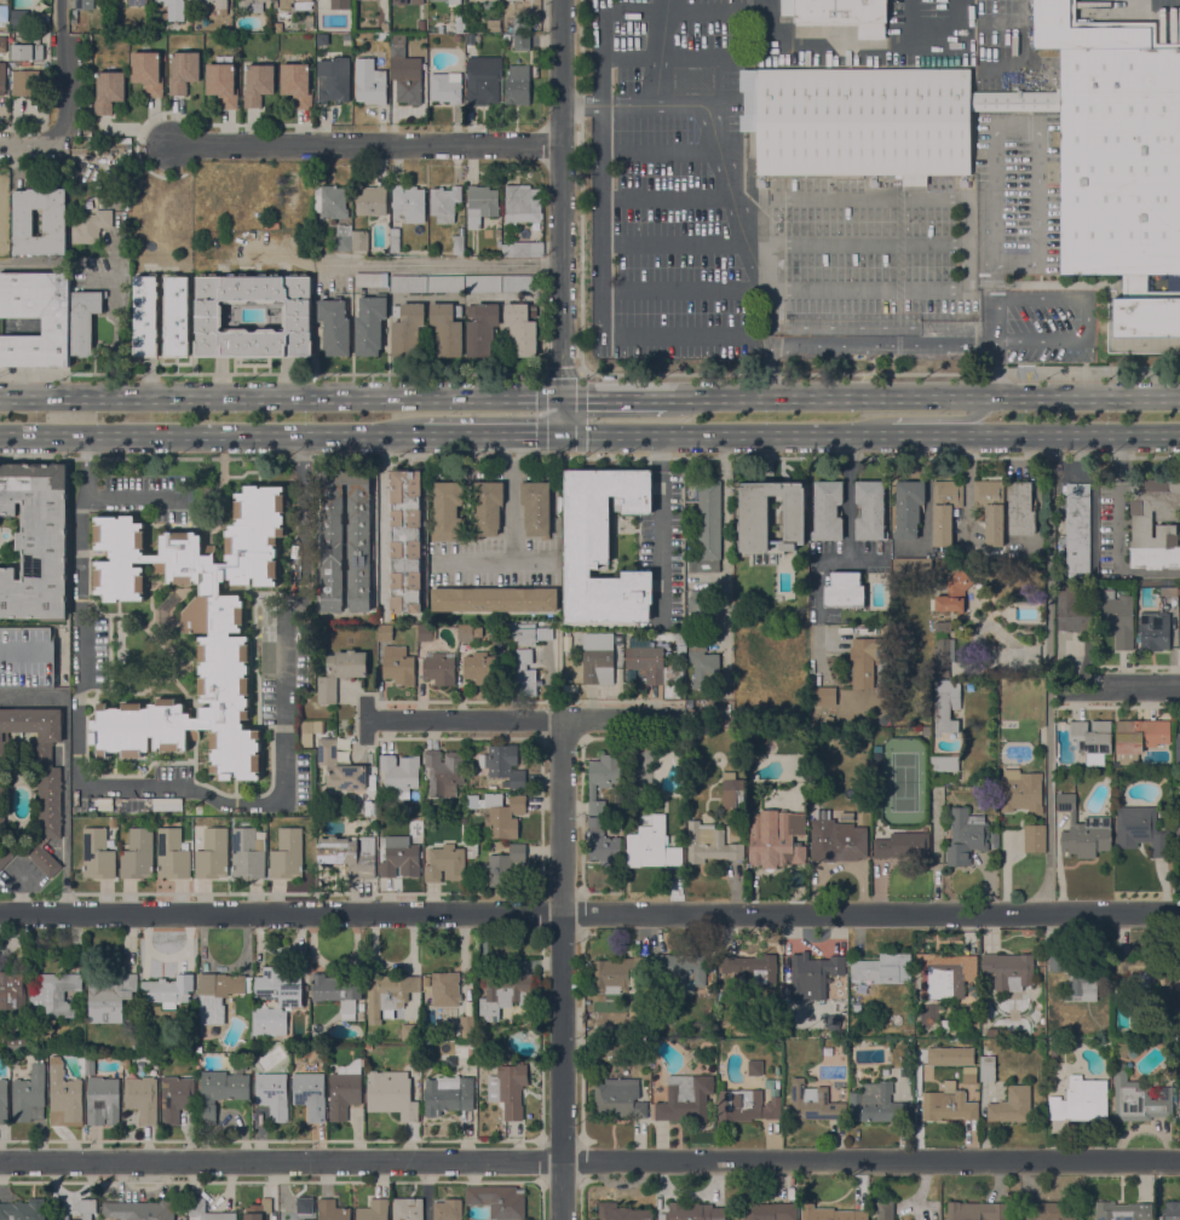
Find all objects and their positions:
building: (416, 1)
building: (449, 1)
building: (132, 2)
building: (217, 2)
building: (399, 2)
building: (295, 4)
building: (339, 4)
building: (488, 4)
building: (84, 5)
building: (252, 5)
building: (173, 10)
building: (844, 15)
building: (4, 17)
building: (19, 18)
building: (74, 19)
building: (310, 21)
building: (421, 24)
building: (493, 24)
building: (522, 24)
building: (385, 25)
building: (277, 27)
building: (457, 27)
building: (186, 28)
building: (499, 36)
building: (457, 38)
building: (522, 41)
building: (2, 44)
road: (660, 50)
building: (27, 51)
building: (398, 51)
building: (183, 71)
building: (148, 73)
road: (62, 74)
building: (2, 77)
building: (333, 80)
building: (484, 81)
building: (25, 82)
building: (370, 82)
building: (221, 84)
building: (258, 84)
building: (297, 85)
building: (518, 85)
building: (409, 87)
building: (445, 87)
building: (109, 91)
road: (574, 102)
road: (997, 130)
road: (365, 145)
road: (30, 146)
building: (127, 157)
building: (863, 160)
road: (724, 162)
building: (370, 200)
building: (332, 201)
building: (408, 203)
building: (443, 203)
building: (522, 203)
building: (480, 205)
building: (2, 209)
road: (559, 215)
building: (53, 221)
building: (91, 226)
building: (497, 232)
building: (343, 237)
building: (359, 240)
building: (395, 240)
building: (459, 244)
building: (4, 249)
building: (523, 249)
road: (445, 264)
road: (120, 274)
building: (370, 280)
building: (408, 283)
building: (445, 283)
building: (483, 283)
building: (517, 283)
road: (945, 289)
road: (600, 292)
building: (284, 315)
building: (161, 316)
building: (221, 316)
road: (1086, 317)
building: (85, 320)
building: (369, 324)
building: (56, 327)
building: (334, 327)
building: (407, 328)
building: (447, 328)
building: (480, 328)
building: (522, 328)
road: (760, 328)
road: (770, 338)
road: (881, 344)
road: (770, 370)
road: (992, 370)
road: (270, 373)
road: (559, 373)
road: (879, 373)
traffic signals: (560, 397)
road: (614, 397)
road: (922, 397)
road: (280, 398)
road: (954, 416)
road: (1047, 432)
traffic signals: (562, 433)
road: (725, 433)
road: (903, 433)
road: (212, 435)
road: (493, 435)
road: (589, 455)
road: (136, 496)
building: (488, 507)
building: (536, 507)
building: (909, 507)
building: (945, 508)
building: (991, 508)
building: (1020, 508)
building: (448, 511)
building: (827, 511)
building: (870, 511)
building: (771, 516)
road: (379, 517)
road: (661, 523)
building: (708, 526)
building: (1077, 528)
road: (1117, 529)
building: (1141, 530)
road: (508, 534)
road: (850, 539)
building: (35, 541)
building: (333, 541)
building: (405, 541)
building: (604, 546)
road: (724, 548)
road: (1048, 549)
road: (860, 557)
road: (531, 564)
building: (913, 564)
building: (1161, 587)
building: (845, 589)
building: (954, 592)
building: (494, 599)
building: (701, 605)
building: (1071, 610)
building: (1118, 618)
building: (559, 627)
building: (886, 629)
building: (195, 631)
building: (1155, 631)
building: (426, 632)
building: (385, 633)
building: (466, 633)
building: (679, 643)
building: (502, 648)
building: (943, 649)
building: (577, 651)
building: (526, 656)
building: (27, 657)
building: (598, 658)
building: (645, 660)
building: (867, 660)
building: (702, 661)
building: (398, 666)
building: (439, 667)
building: (480, 667)
building: (340, 672)
building: (882, 677)
building: (673, 678)
road: (1121, 685)
building: (824, 696)
building: (946, 704)
road: (465, 723)
road: (627, 723)
building: (311, 726)
building: (926, 731)
building: (1093, 735)
building: (1140, 736)
building: (1178, 748)
building: (657, 761)
building: (503, 764)
building: (945, 764)
building: (340, 767)
building: (444, 770)
building: (401, 772)
building: (603, 778)
road: (102, 785)
building: (1021, 792)
building: (733, 794)
road: (1049, 800)
building: (473, 801)
building: (50, 802)
building: (503, 816)
building: (462, 821)
building: (597, 821)
building: (1140, 829)
building: (1083, 830)
building: (1178, 831)
building: (967, 836)
building: (994, 838)
building: (1032, 838)
building: (777, 839)
building: (837, 840)
building: (710, 844)
building: (652, 845)
building: (904, 846)
building: (472, 847)
building: (605, 850)
building: (138, 853)
building: (248, 853)
building: (287, 853)
building: (98, 854)
building: (172, 854)
building: (213, 854)
building: (350, 854)
building: (401, 858)
building: (445, 863)
building: (503, 864)
road: (589, 915)
building: (883, 967)
building: (750, 968)
building: (1139, 969)
road: (564, 971)
building: (681, 971)
building: (1009, 971)
building: (1082, 972)
building: (617, 973)
building: (945, 974)
building: (812, 976)
building: (1179, 978)
building: (280, 986)
building: (445, 989)
building: (11, 990)
building: (168, 990)
building: (338, 992)
building: (506, 992)
building: (54, 994)
building: (387, 994)
building: (218, 995)
building: (110, 999)
building: (361, 1006)
building: (361, 1017)
building: (271, 1022)
building: (638, 1024)
building: (467, 1026)
building: (410, 1031)
building: (994, 1032)
building: (534, 1034)
building: (16, 1043)
building: (368, 1045)
building: (136, 1049)
building: (480, 1051)
building: (1055, 1054)
building: (949, 1055)
building: (450, 1060)
building: (90, 1065)
building: (754, 1066)
building: (986, 1067)
building: (885, 1071)
building: (344, 1089)
building: (508, 1089)
building: (220, 1090)
building: (390, 1093)
building: (272, 1094)
building: (310, 1094)
building: (448, 1094)
building: (29, 1095)
building: (64, 1097)
building: (143, 1098)
building: (175, 1098)
building: (618, 1098)
building: (685, 1098)
building: (1140, 1099)
building: (2, 1100)
building: (103, 1100)
building: (1080, 1100)
building: (813, 1103)
building: (875, 1103)
building: (946, 1104)
building: (746, 1105)
building: (1011, 1105)
building: (1179, 1110)
road: (589, 1161)
building: (499, 1201)
building: (304, 1205)
building: (87, 1208)
building: (407, 1209)
building: (447, 1209)
building: (23, 1210)
building: (138, 1210)
building: (258, 1210)
building: (332, 1210)
building: (374, 1210)
building: (885, 1210)
building: (975, 1210)
building: (1046, 1210)
building: (1122, 1210)
building: (1172, 1210)
building: (205, 1212)
building: (622, 1212)
building: (692, 1212)
building: (770, 1212)
building: (829, 1213)
building: (59, 1218)

